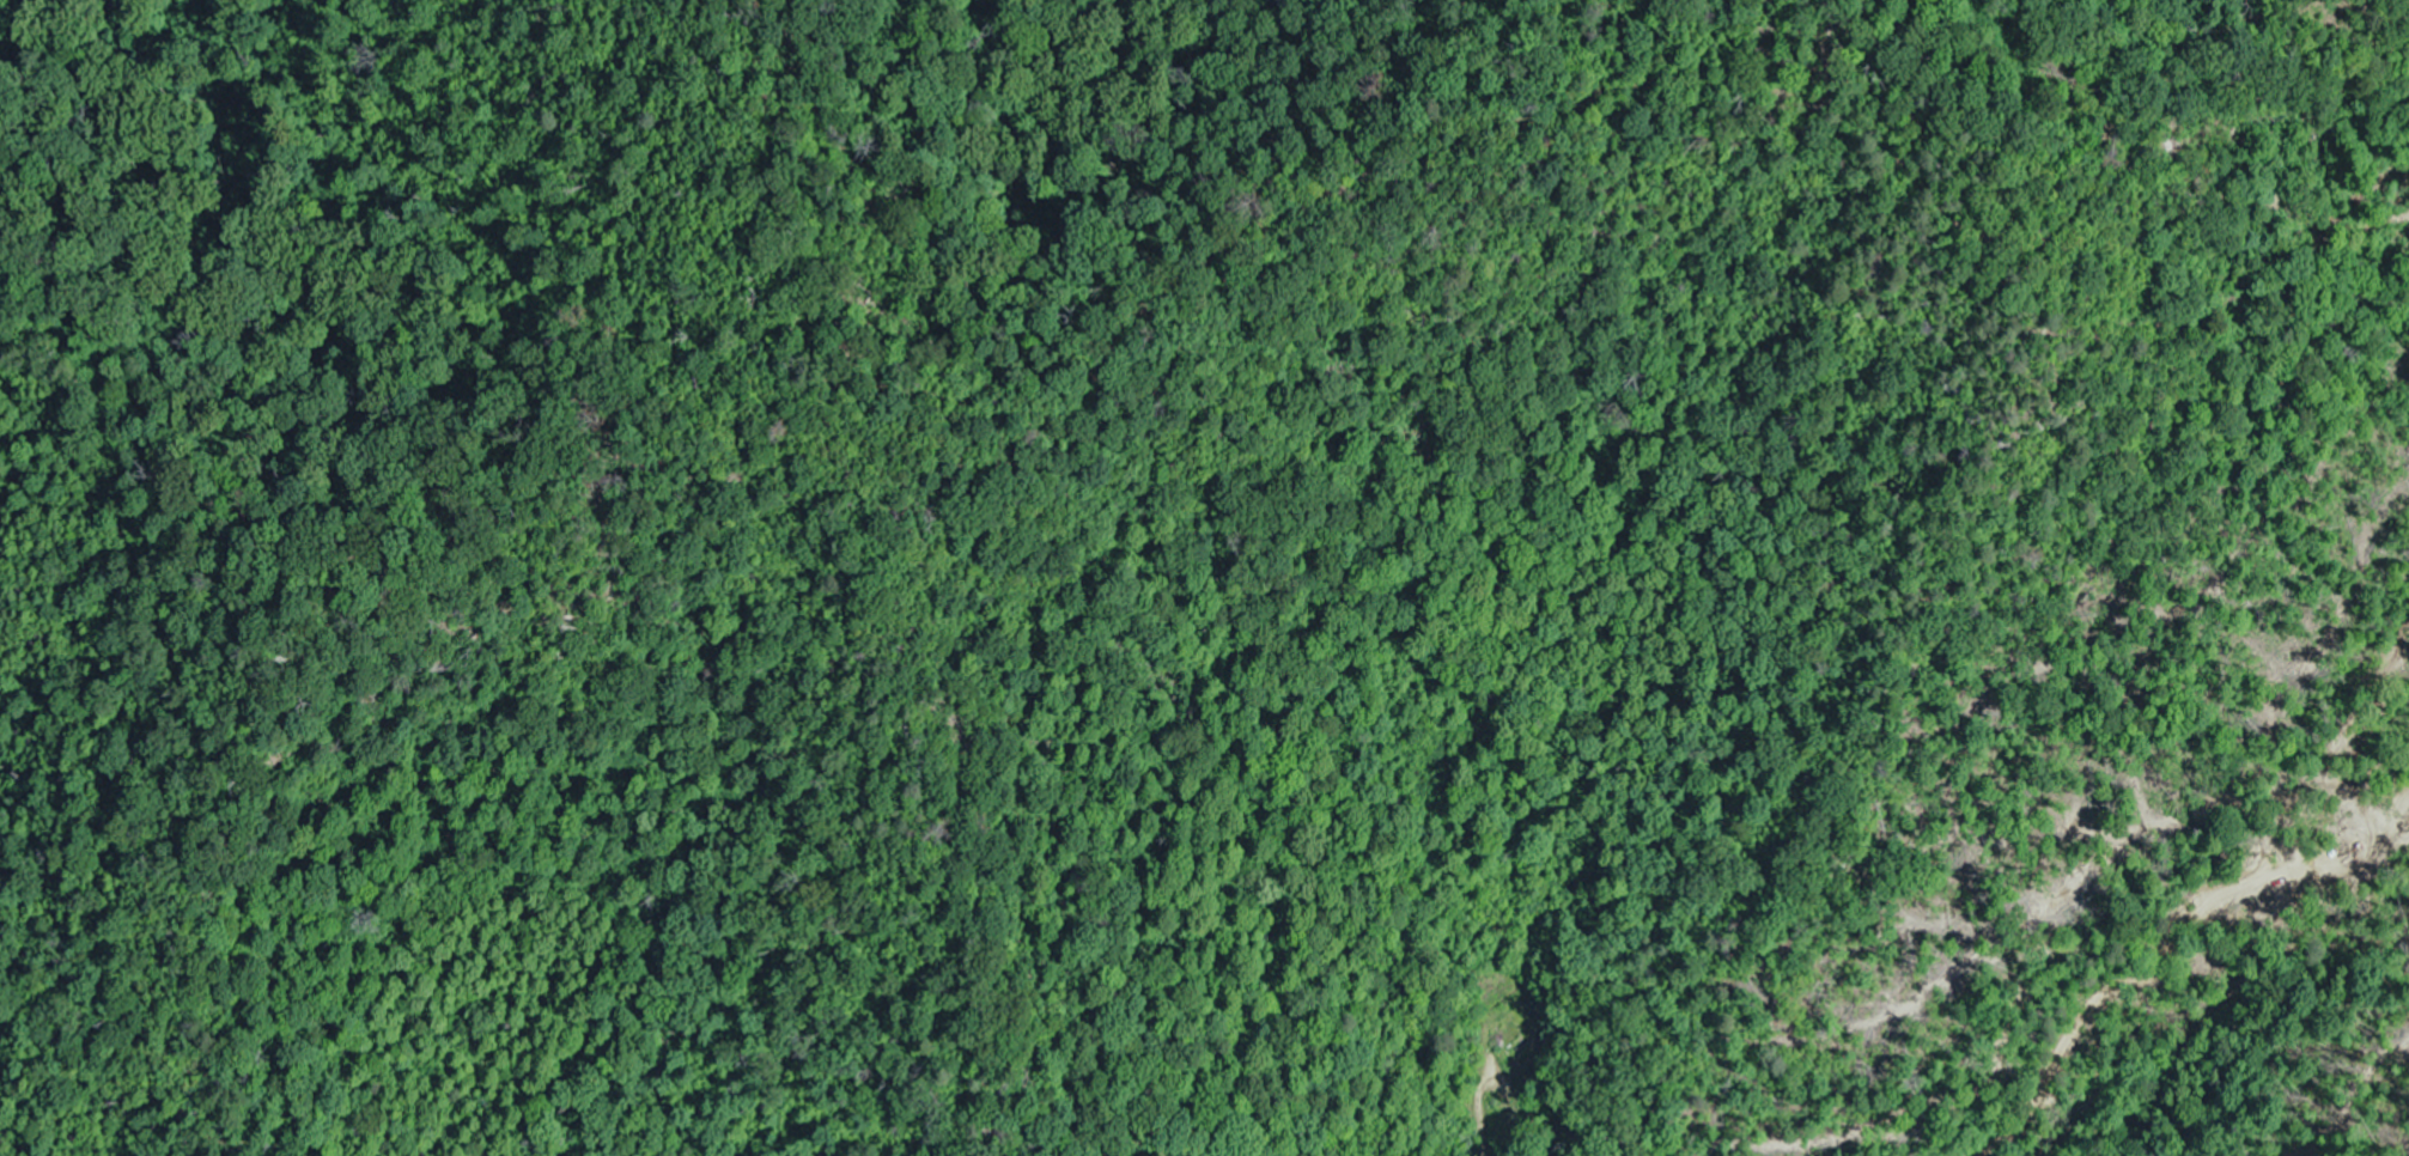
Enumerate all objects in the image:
park: (184, 241)
road: (1479, 1111)

